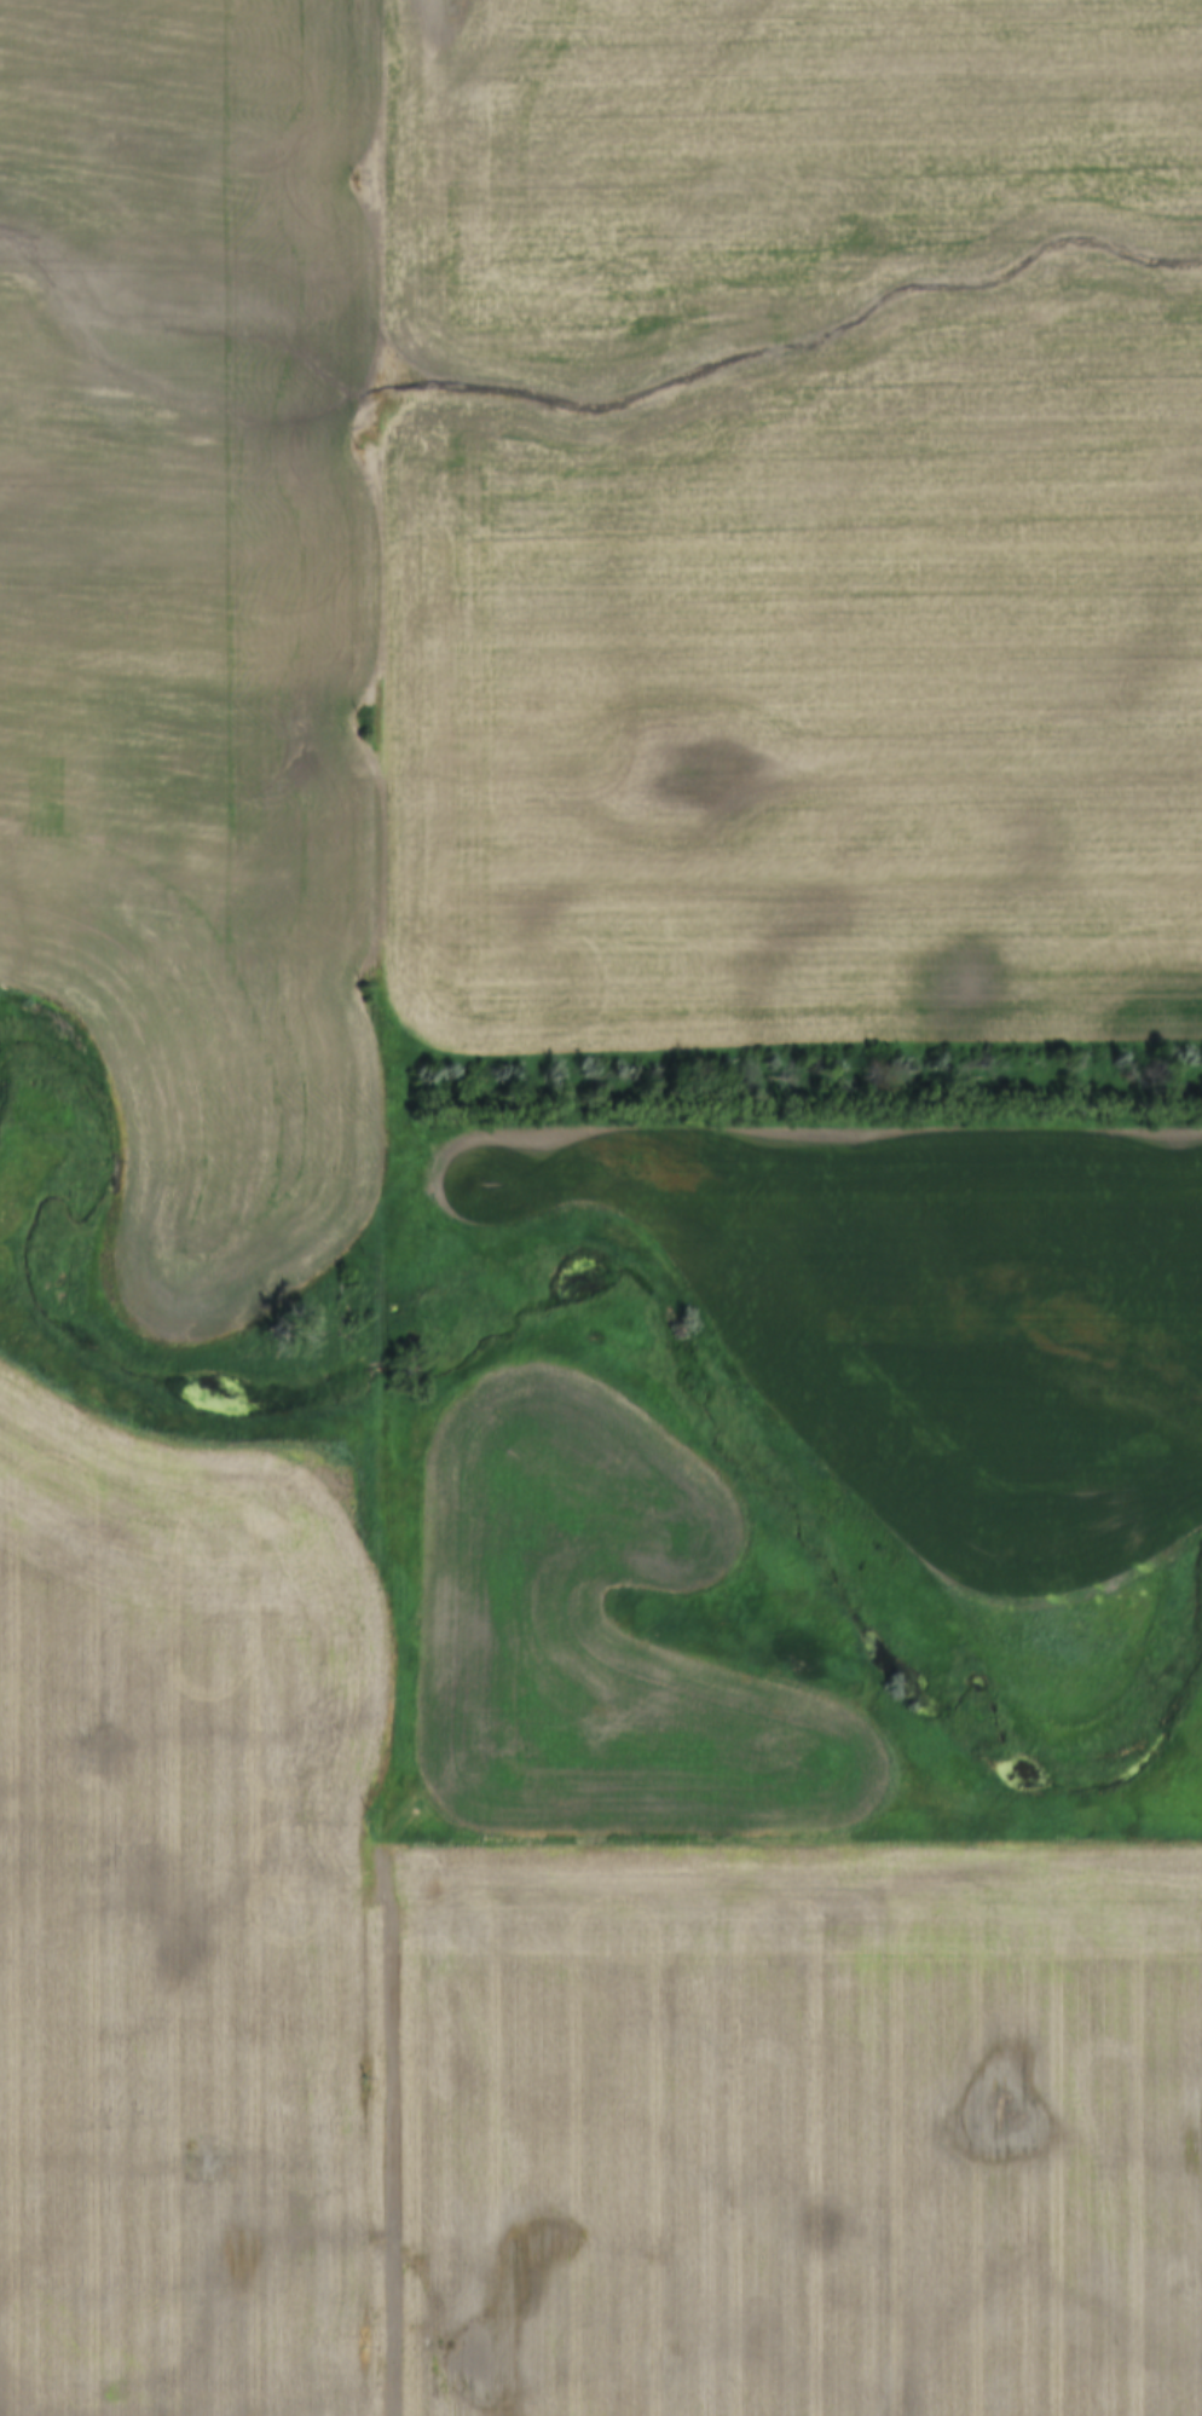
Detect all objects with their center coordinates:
road: (381, 1207)

